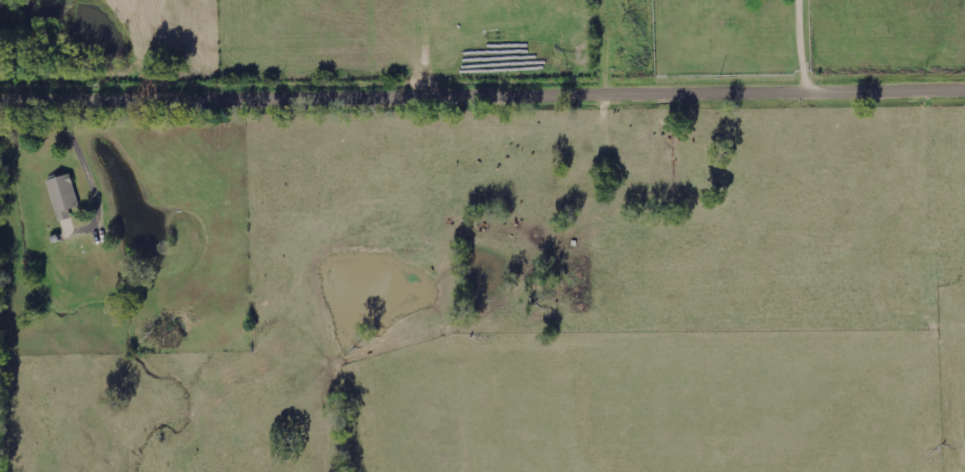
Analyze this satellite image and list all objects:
road: (482, 97)
building: (62, 196)

